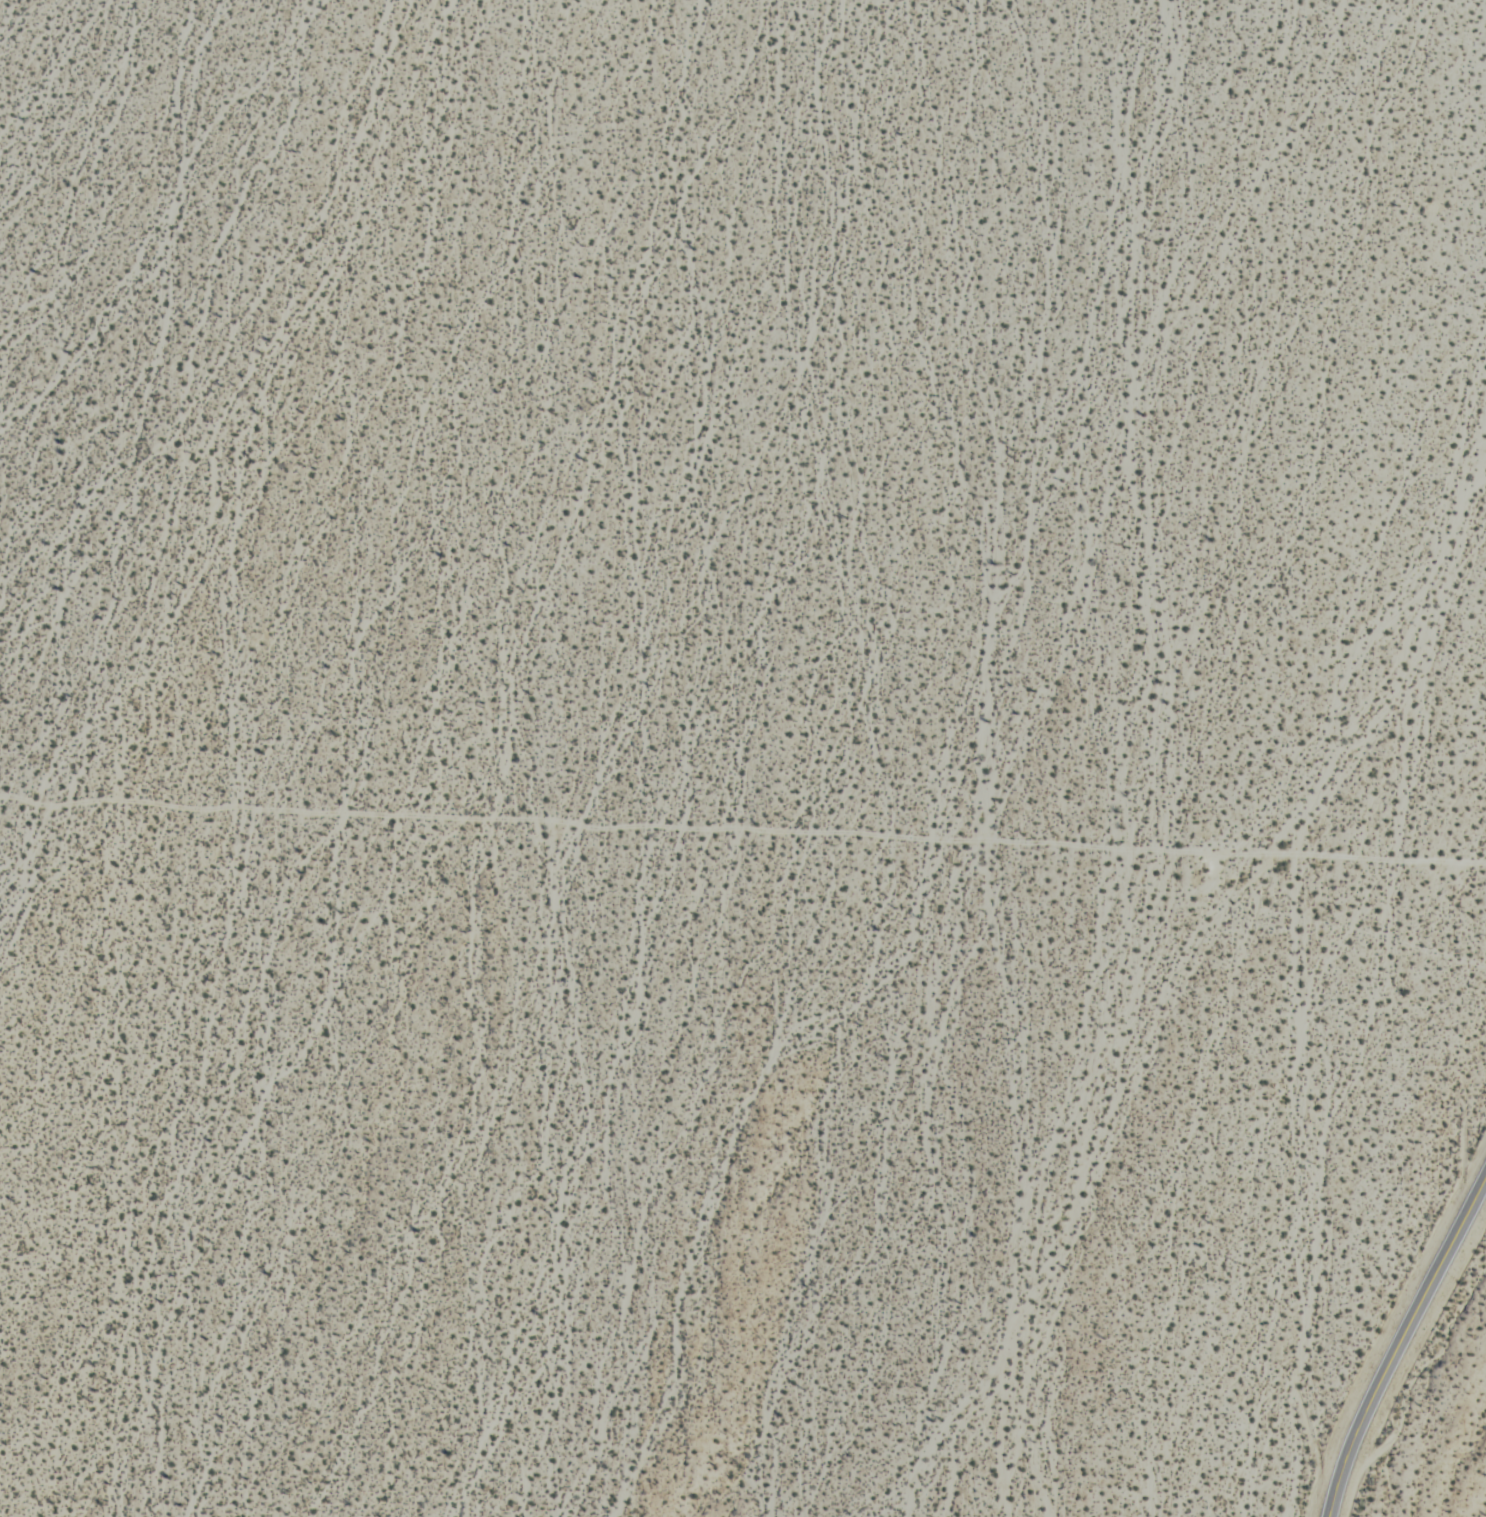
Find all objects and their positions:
road: (1400, 1341)

